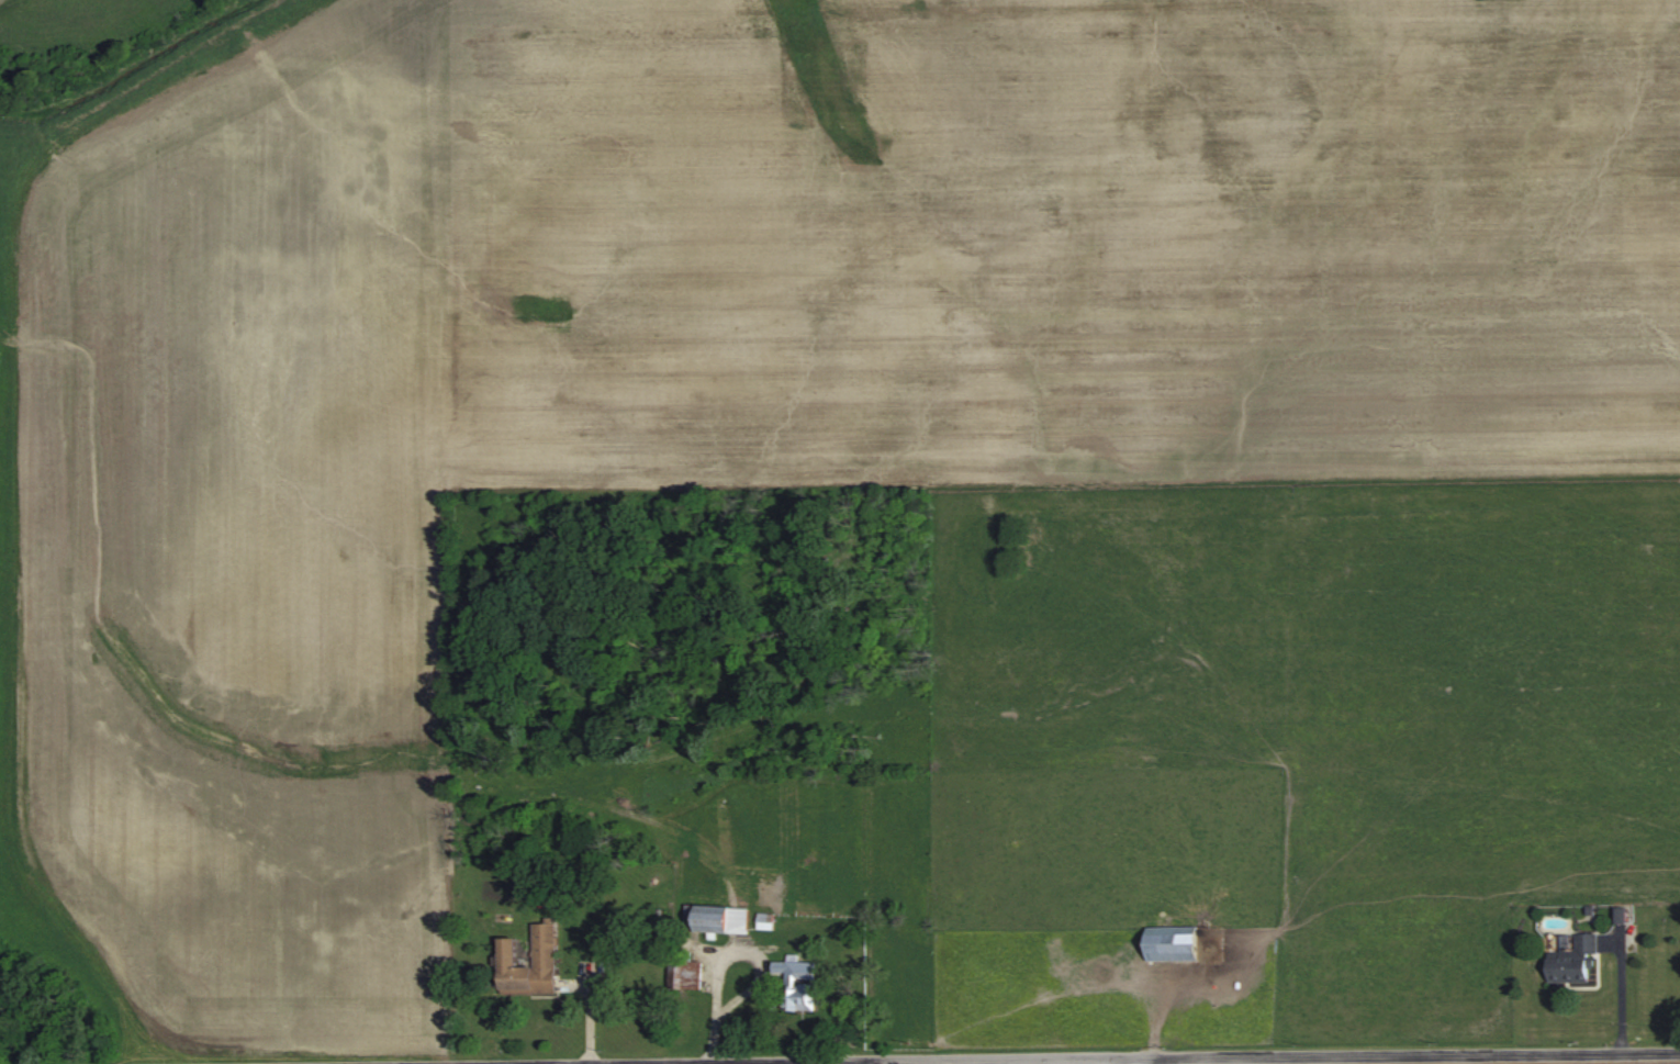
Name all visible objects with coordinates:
building: (718, 918)
building: (766, 920)
building: (1177, 943)
building: (547, 951)
building: (1575, 956)
building: (799, 982)
road: (1079, 1053)
road: (1149, 1059)
road: (850, 1061)
road: (603, 1063)

